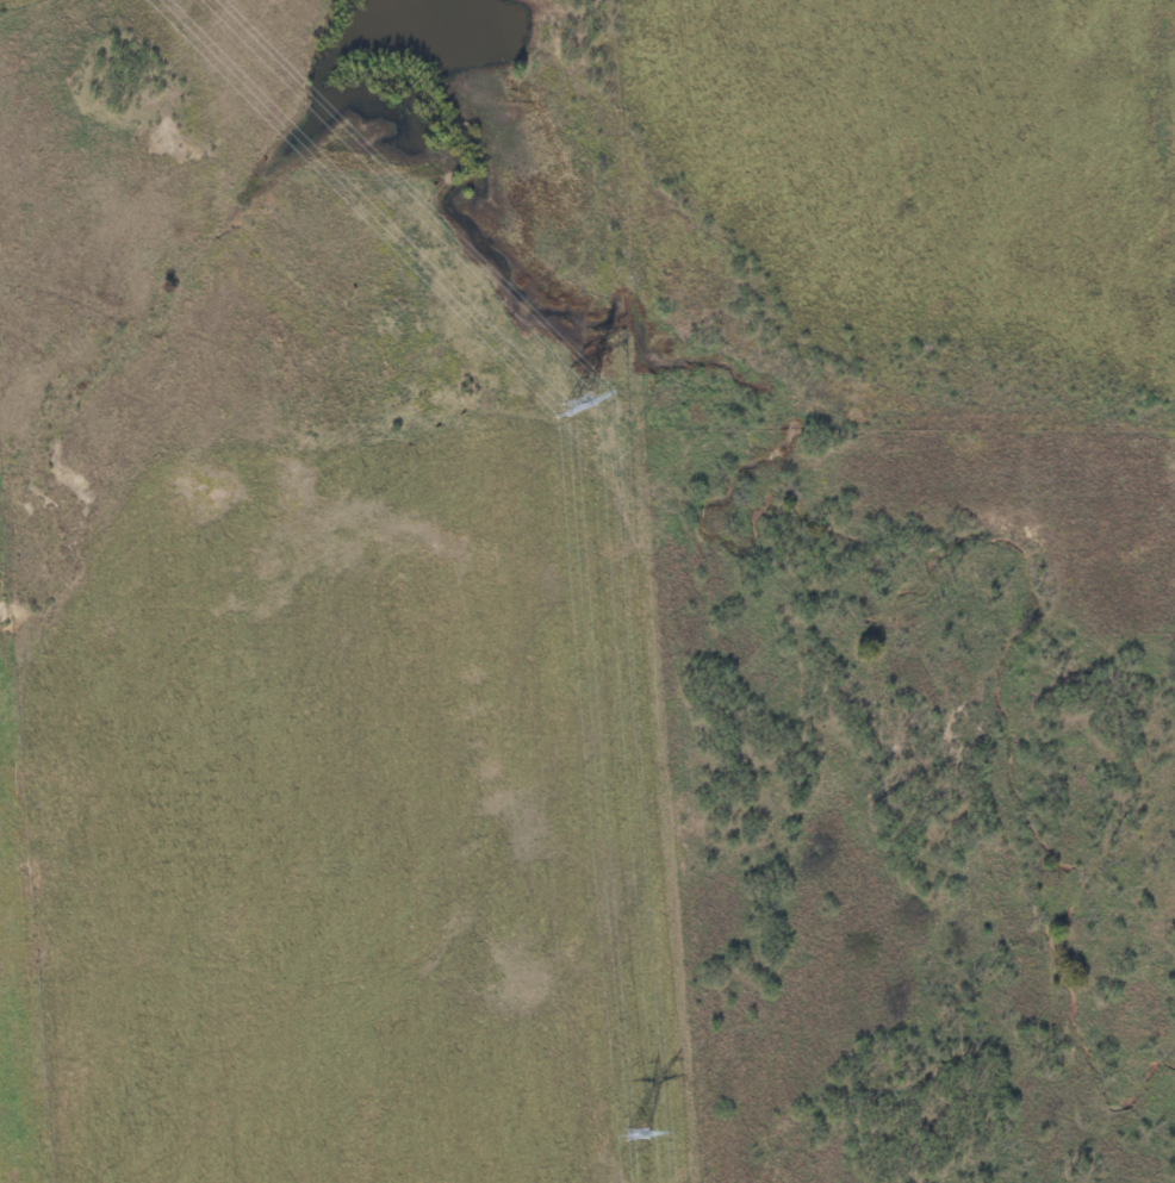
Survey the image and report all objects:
power tower: (579, 399)
power tower: (635, 1132)

